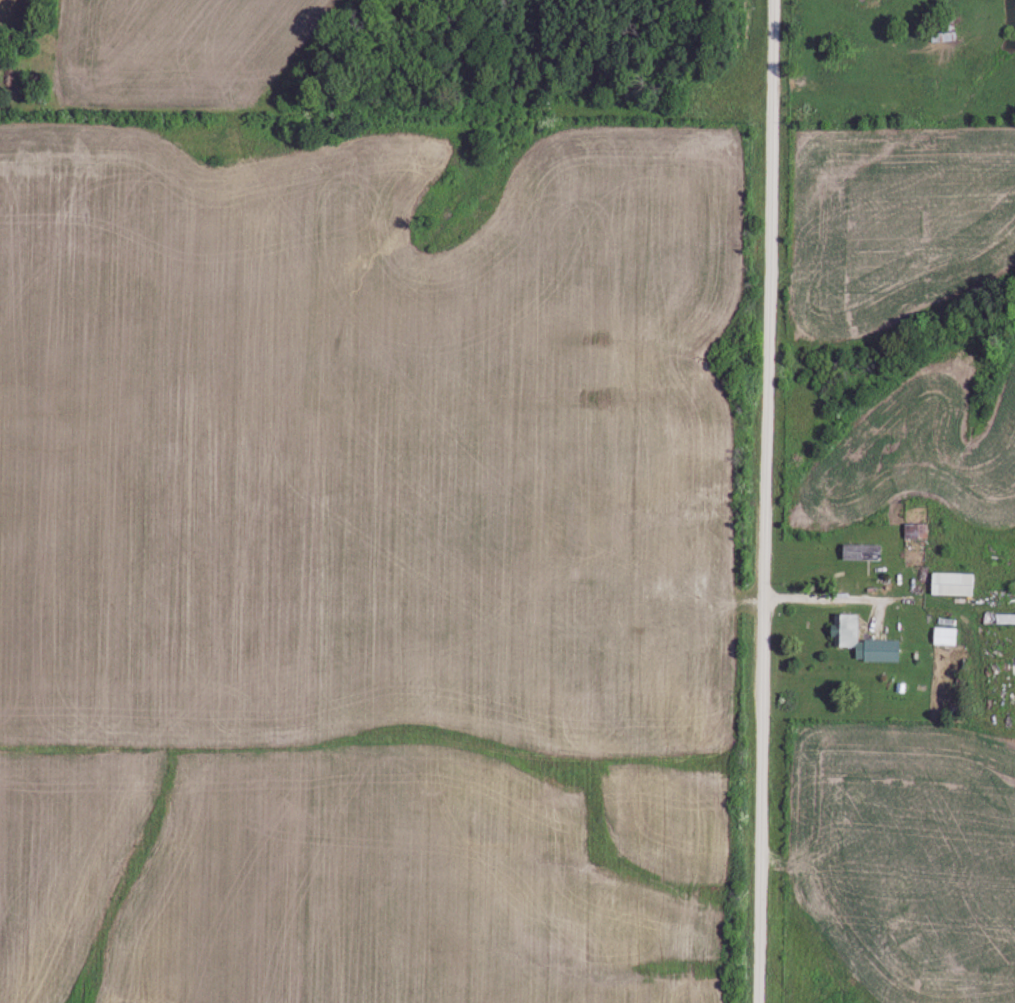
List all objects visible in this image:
road: (764, 501)
building: (953, 583)
building: (945, 635)
building: (865, 641)

